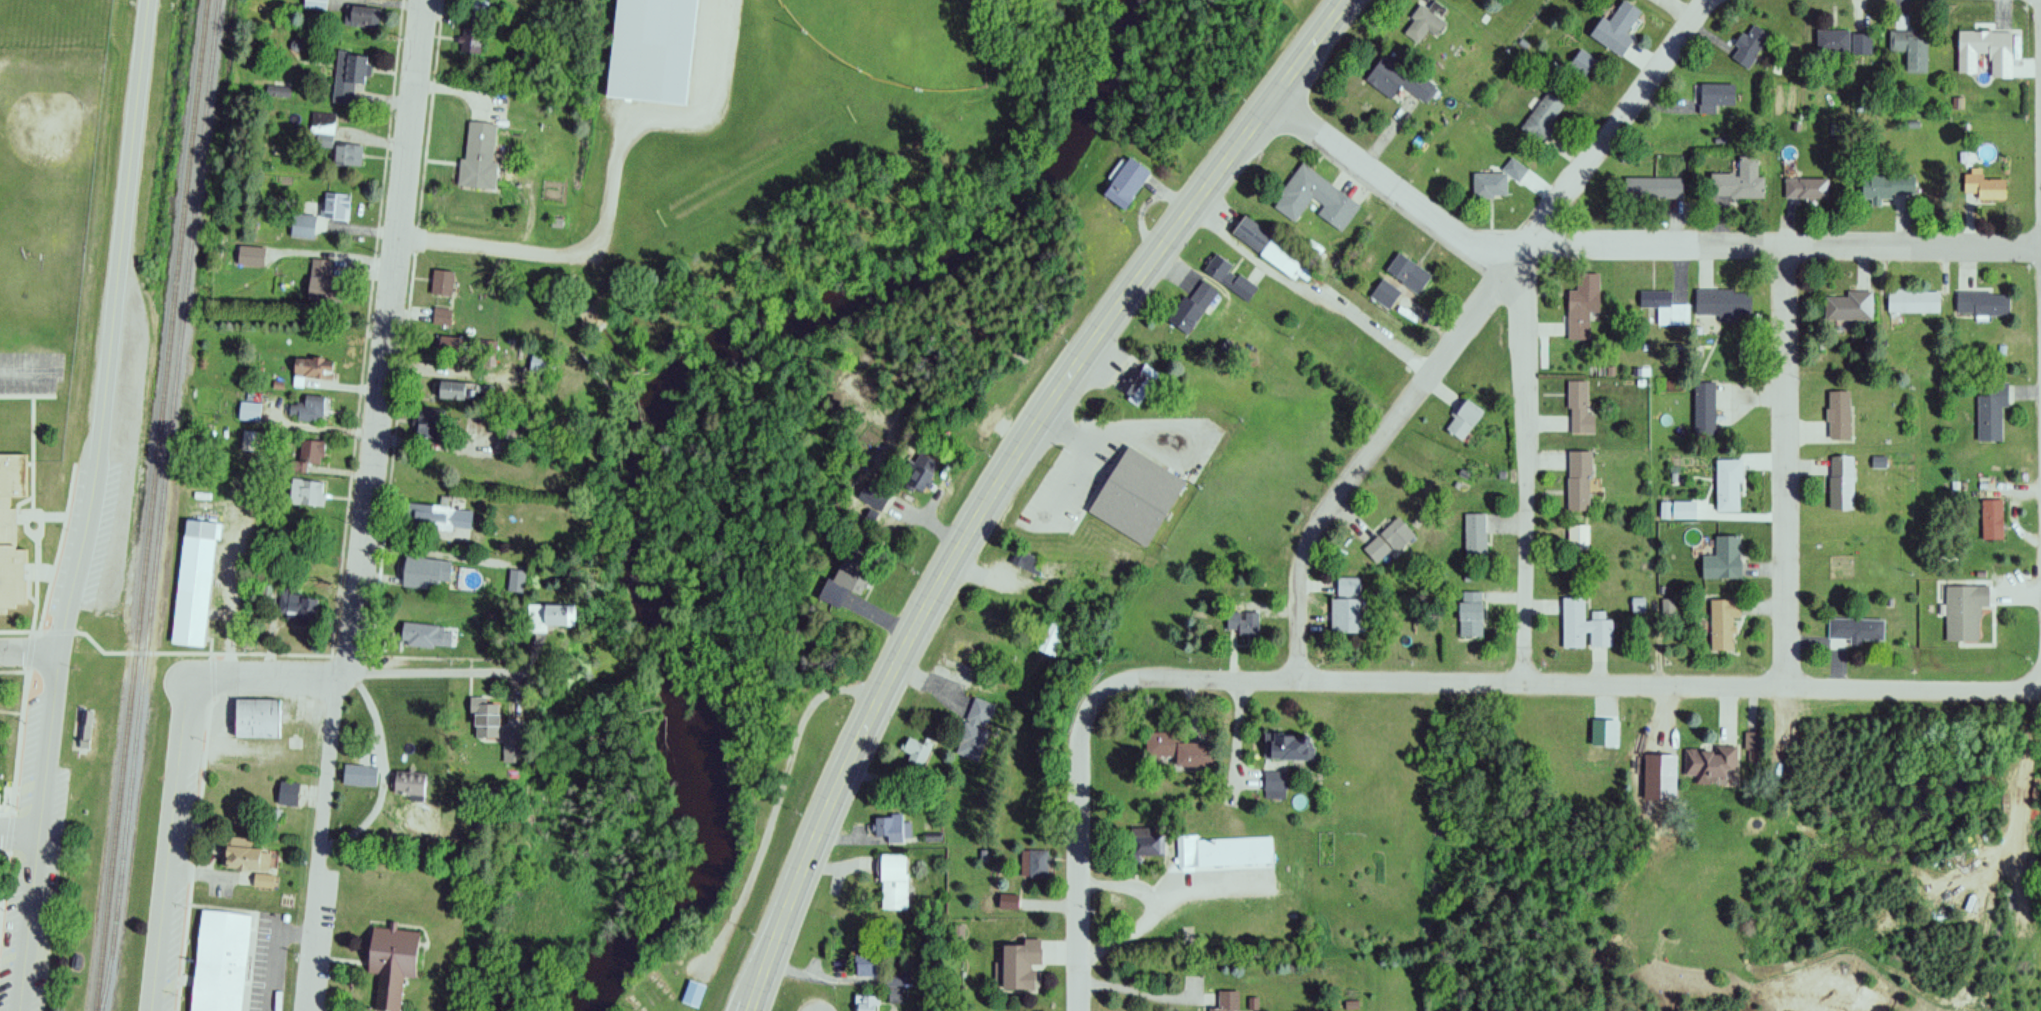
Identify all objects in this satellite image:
building: (363, 17)
building: (1425, 24)
building: (1615, 30)
park: (904, 39)
building: (470, 41)
building: (1832, 42)
building: (1861, 44)
building: (652, 48)
building: (1749, 48)
building: (1910, 49)
building: (1982, 49)
building: (1582, 64)
building: (349, 79)
building: (1398, 80)
building: (278, 92)
building: (1716, 98)
building: (1543, 117)
building: (321, 131)
building: (346, 156)
building: (478, 156)
building: (1125, 182)
building: (1737, 182)
building: (1494, 183)
railway: (187, 185)
building: (1882, 188)
building: (1982, 188)
building: (1653, 189)
building: (1806, 190)
building: (1315, 196)
building: (335, 207)
building: (302, 227)
building: (1250, 235)
road: (1631, 245)
road: (563, 253)
building: (250, 257)
building: (1279, 261)
building: (1408, 274)
building: (1229, 279)
building: (320, 281)
building: (442, 283)
building: (1385, 295)
building: (1913, 302)
building: (1723, 305)
building: (1982, 305)
building: (1192, 308)
building: (1666, 308)
building: (1849, 308)
building: (1581, 314)
building: (442, 316)
road: (1464, 325)
building: (483, 350)
building: (537, 360)
building: (311, 367)
building: (1133, 384)
building: (448, 390)
river: (659, 408)
building: (308, 409)
building: (1579, 409)
building: (1704, 409)
building: (1991, 413)
building: (1838, 415)
building: (1463, 419)
building: (425, 422)
road: (1150, 432)
building: (307, 454)
road: (1526, 465)
road: (1786, 466)
building: (916, 476)
road: (997, 477)
building: (1578, 480)
road: (1065, 482)
building: (1840, 482)
building: (1728, 486)
building: (306, 493)
building: (869, 495)
building: (1132, 497)
road: (77, 504)
railway: (160, 505)
road: (368, 506)
building: (438, 516)
building: (1991, 519)
building: (11, 530)
building: (1475, 535)
building: (1578, 537)
building: (1389, 540)
building: (1723, 559)
building: (1025, 561)
building: (425, 572)
building: (1075, 574)
building: (193, 583)
building: (844, 584)
building: (294, 602)
building: (1346, 606)
building: (1964, 612)
building: (1469, 614)
building: (548, 616)
building: (1241, 622)
building: (1723, 623)
building: (1584, 627)
building: (1857, 630)
building: (422, 636)
building: (1050, 637)
road: (29, 652)
road: (356, 677)
road: (1569, 681)
railway: (132, 690)
building: (256, 716)
building: (483, 719)
building: (86, 725)
building: (975, 729)
building: (1749, 739)
building: (512, 740)
building: (1289, 746)
building: (1179, 749)
building: (916, 751)
building: (1708, 762)
building: (359, 775)
building: (409, 784)
building: (284, 789)
road: (778, 800)
building: (892, 829)
road: (20, 835)
building: (1145, 843)
road: (1076, 845)
road: (175, 846)
building: (247, 847)
building: (1224, 852)
building: (1035, 863)
building: (262, 876)
building: (894, 882)
building: (1008, 902)
building: (393, 956)
building: (220, 958)
building: (865, 965)
building: (1018, 965)
building: (895, 989)
building: (689, 995)
building: (1227, 1001)
building: (867, 1003)

